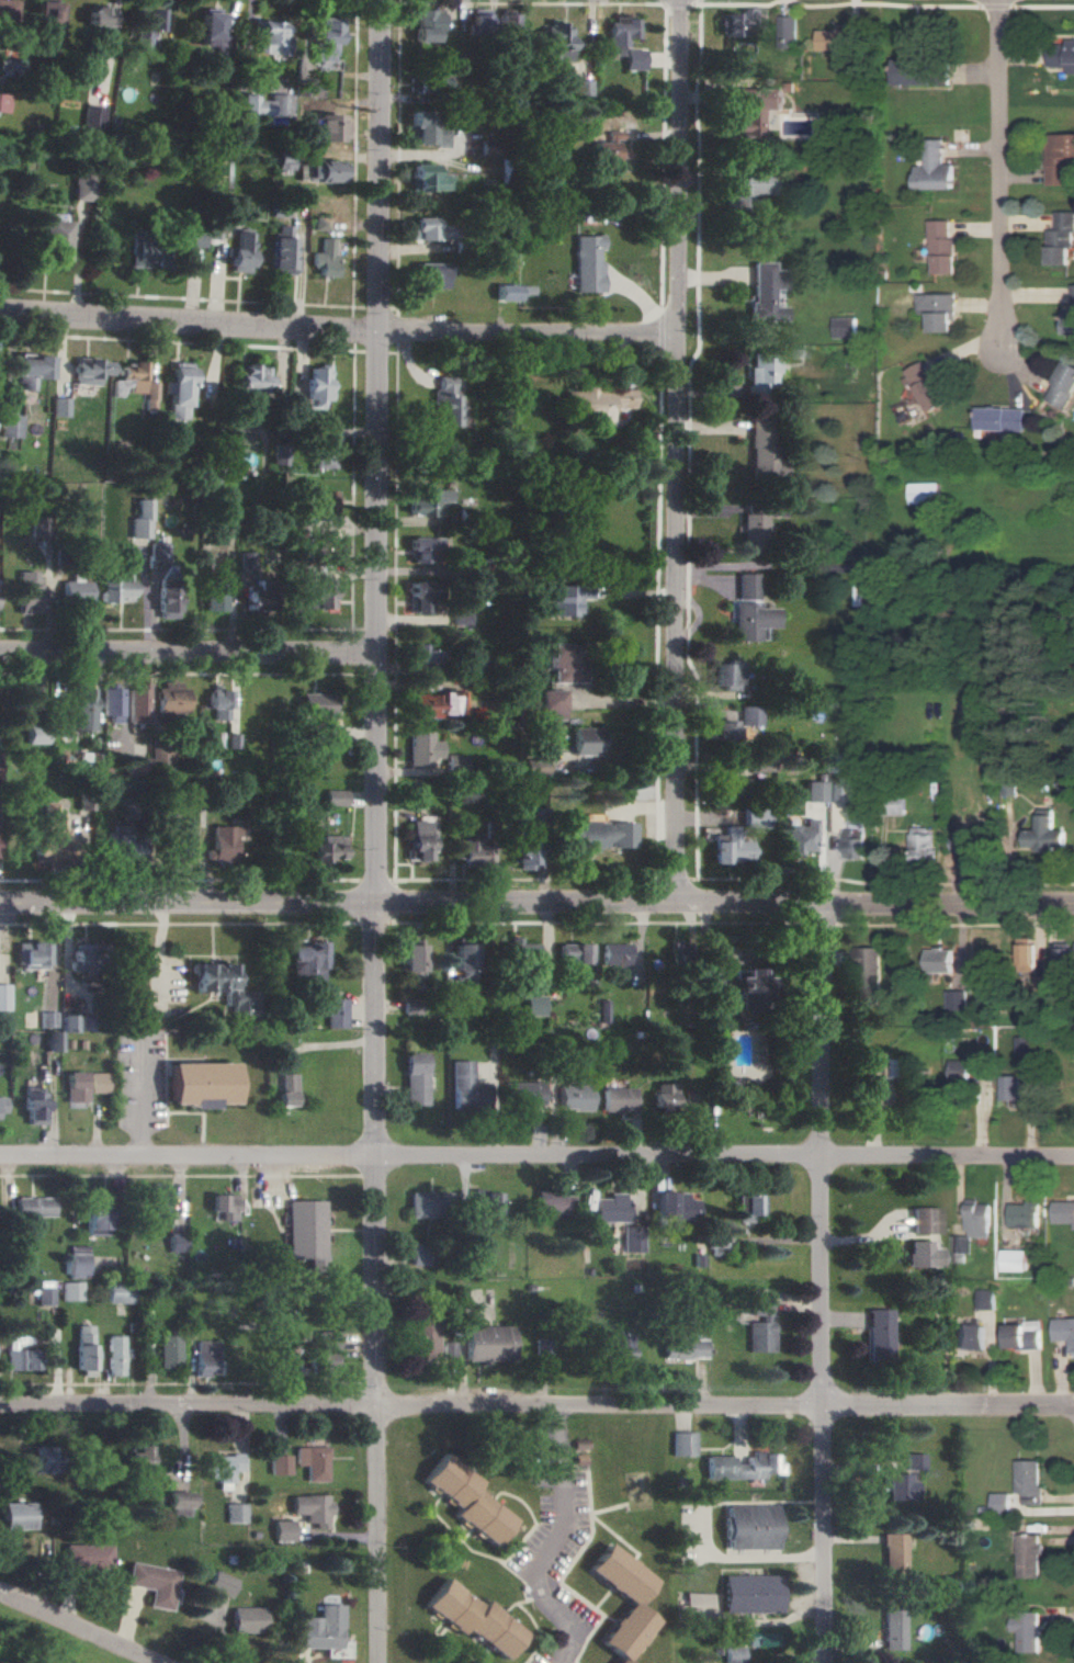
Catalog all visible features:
building: (7, 10)
building: (44, 14)
building: (505, 20)
building: (477, 22)
building: (98, 23)
building: (145, 24)
building: (427, 25)
building: (787, 31)
building: (211, 32)
building: (619, 34)
building: (270, 38)
building: (838, 39)
building: (321, 41)
building: (555, 41)
building: (1062, 55)
building: (633, 59)
building: (918, 72)
building: (431, 84)
building: (314, 86)
building: (580, 88)
building: (3, 102)
building: (264, 109)
building: (750, 111)
building: (92, 118)
building: (427, 127)
building: (324, 131)
building: (603, 152)
building: (1058, 157)
building: (932, 167)
building: (324, 171)
road: (999, 172)
building: (428, 179)
building: (81, 188)
building: (747, 189)
building: (430, 230)
building: (191, 237)
building: (1060, 239)
building: (52, 240)
building: (942, 247)
building: (281, 250)
building: (239, 252)
building: (144, 254)
building: (324, 259)
building: (588, 263)
building: (432, 274)
building: (509, 293)
building: (766, 293)
building: (938, 310)
building: (1069, 317)
building: (845, 327)
road: (338, 328)
building: (29, 371)
building: (89, 371)
building: (760, 373)
building: (127, 380)
building: (253, 382)
building: (1062, 385)
building: (929, 386)
building: (316, 388)
building: (178, 391)
building: (149, 395)
building: (448, 401)
building: (600, 405)
building: (59, 406)
building: (999, 418)
building: (10, 426)
building: (325, 446)
road: (378, 451)
road: (679, 451)
building: (519, 453)
building: (765, 453)
building: (279, 454)
building: (924, 493)
building: (323, 501)
building: (429, 504)
building: (767, 509)
building: (139, 520)
building: (755, 531)
building: (427, 550)
building: (158, 552)
building: (248, 561)
building: (27, 591)
building: (114, 591)
building: (75, 592)
building: (216, 592)
building: (323, 595)
building: (257, 596)
building: (422, 598)
building: (569, 599)
building: (167, 602)
building: (751, 610)
building: (463, 616)
road: (190, 653)
building: (427, 657)
building: (567, 663)
building: (730, 676)
building: (170, 699)
building: (112, 702)
building: (137, 703)
building: (438, 703)
building: (23, 704)
building: (221, 704)
building: (556, 704)
building: (80, 710)
building: (751, 715)
building: (725, 729)
building: (35, 735)
building: (589, 742)
building: (425, 748)
building: (161, 758)
building: (762, 762)
building: (457, 763)
building: (137, 767)
building: (538, 768)
building: (737, 787)
building: (838, 789)
building: (814, 791)
building: (337, 797)
building: (412, 801)
building: (755, 818)
building: (48, 833)
building: (1047, 833)
building: (600, 835)
building: (800, 837)
building: (420, 840)
building: (923, 841)
building: (174, 842)
building: (855, 844)
building: (969, 844)
building: (121, 845)
building: (223, 845)
building: (730, 848)
building: (329, 849)
building: (475, 855)
road: (536, 903)
road: (159, 948)
building: (678, 951)
building: (1028, 953)
building: (31, 954)
building: (521, 954)
building: (615, 955)
building: (82, 960)
building: (412, 960)
building: (574, 960)
building: (940, 960)
building: (308, 962)
building: (463, 965)
building: (870, 972)
building: (222, 986)
building: (748, 991)
building: (4, 997)
building: (958, 999)
building: (533, 1005)
building: (412, 1007)
building: (336, 1012)
building: (137, 1015)
building: (48, 1019)
building: (68, 1023)
building: (54, 1041)
building: (713, 1042)
building: (1024, 1043)
building: (757, 1051)
building: (874, 1076)
building: (415, 1078)
building: (99, 1083)
building: (201, 1084)
building: (77, 1087)
building: (1011, 1087)
building: (285, 1089)
building: (465, 1089)
building: (521, 1094)
building: (664, 1095)
building: (574, 1097)
building: (618, 1099)
road: (138, 1101)
building: (2, 1105)
building: (35, 1106)
road: (536, 1158)
building: (483, 1200)
building: (159, 1204)
building: (427, 1204)
building: (552, 1204)
building: (34, 1207)
building: (223, 1207)
building: (749, 1207)
building: (611, 1208)
building: (676, 1209)
building: (1063, 1211)
building: (1025, 1213)
building: (95, 1215)
building: (977, 1218)
building: (925, 1220)
building: (306, 1232)
building: (631, 1236)
building: (177, 1242)
building: (961, 1244)
building: (720, 1246)
building: (419, 1254)
building: (922, 1255)
building: (77, 1259)
building: (1015, 1259)
road: (378, 1282)
road: (826, 1283)
building: (71, 1291)
building: (121, 1294)
building: (45, 1296)
building: (985, 1299)
building: (761, 1326)
building: (1064, 1331)
building: (1021, 1334)
building: (878, 1336)
building: (969, 1337)
building: (425, 1339)
building: (490, 1343)
building: (540, 1344)
building: (622, 1347)
building: (685, 1348)
building: (323, 1349)
building: (84, 1350)
building: (449, 1350)
building: (168, 1351)
building: (115, 1355)
building: (206, 1358)
building: (21, 1359)
road: (536, 1406)
building: (682, 1444)
building: (45, 1459)
building: (915, 1461)
building: (312, 1462)
building: (134, 1463)
building: (279, 1464)
building: (742, 1468)
building: (221, 1469)
building: (1028, 1480)
building: (903, 1487)
building: (466, 1500)
building: (999, 1503)
building: (176, 1504)
building: (312, 1509)
building: (234, 1513)
building: (16, 1516)
building: (751, 1527)
building: (281, 1531)
road: (558, 1550)
building: (894, 1553)
building: (1028, 1555)
building: (84, 1557)
road: (744, 1557)
building: (150, 1584)
building: (218, 1584)
building: (750, 1594)
building: (698, 1599)
building: (631, 1604)
building: (245, 1619)
building: (472, 1619)
road: (76, 1629)
building: (894, 1629)
building: (1026, 1630)
building: (321, 1632)
park: (44, 1642)
building: (734, 1655)

